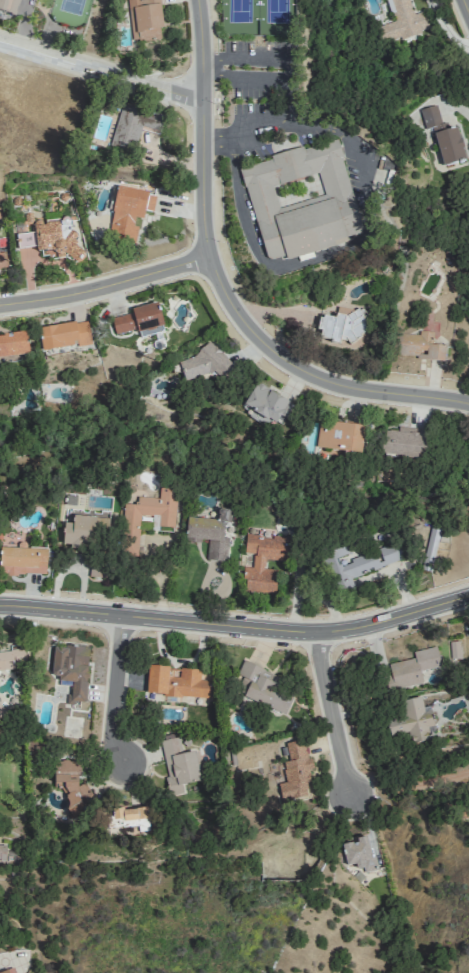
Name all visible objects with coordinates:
road: (466, 5)
building: (145, 19)
building: (401, 22)
road: (289, 68)
road: (102, 70)
road: (313, 122)
building: (133, 125)
road: (267, 126)
building: (443, 135)
road: (232, 144)
building: (301, 200)
building: (128, 213)
building: (49, 236)
road: (311, 259)
building: (2, 260)
road: (223, 285)
road: (107, 286)
building: (136, 319)
building: (341, 326)
building: (64, 335)
building: (13, 344)
building: (419, 346)
building: (202, 363)
building: (266, 404)
building: (339, 435)
building: (404, 441)
building: (163, 518)
building: (210, 533)
building: (430, 548)
building: (23, 560)
building: (263, 561)
building: (356, 565)
building: (97, 571)
road: (236, 625)
building: (454, 649)
building: (410, 668)
building: (71, 669)
building: (176, 682)
building: (261, 687)
road: (114, 690)
road: (330, 712)
building: (413, 720)
road: (405, 757)
building: (178, 764)
building: (295, 772)
building: (71, 785)
building: (128, 820)
building: (2, 851)
building: (359, 853)
road: (10, 959)
building: (8, 970)

